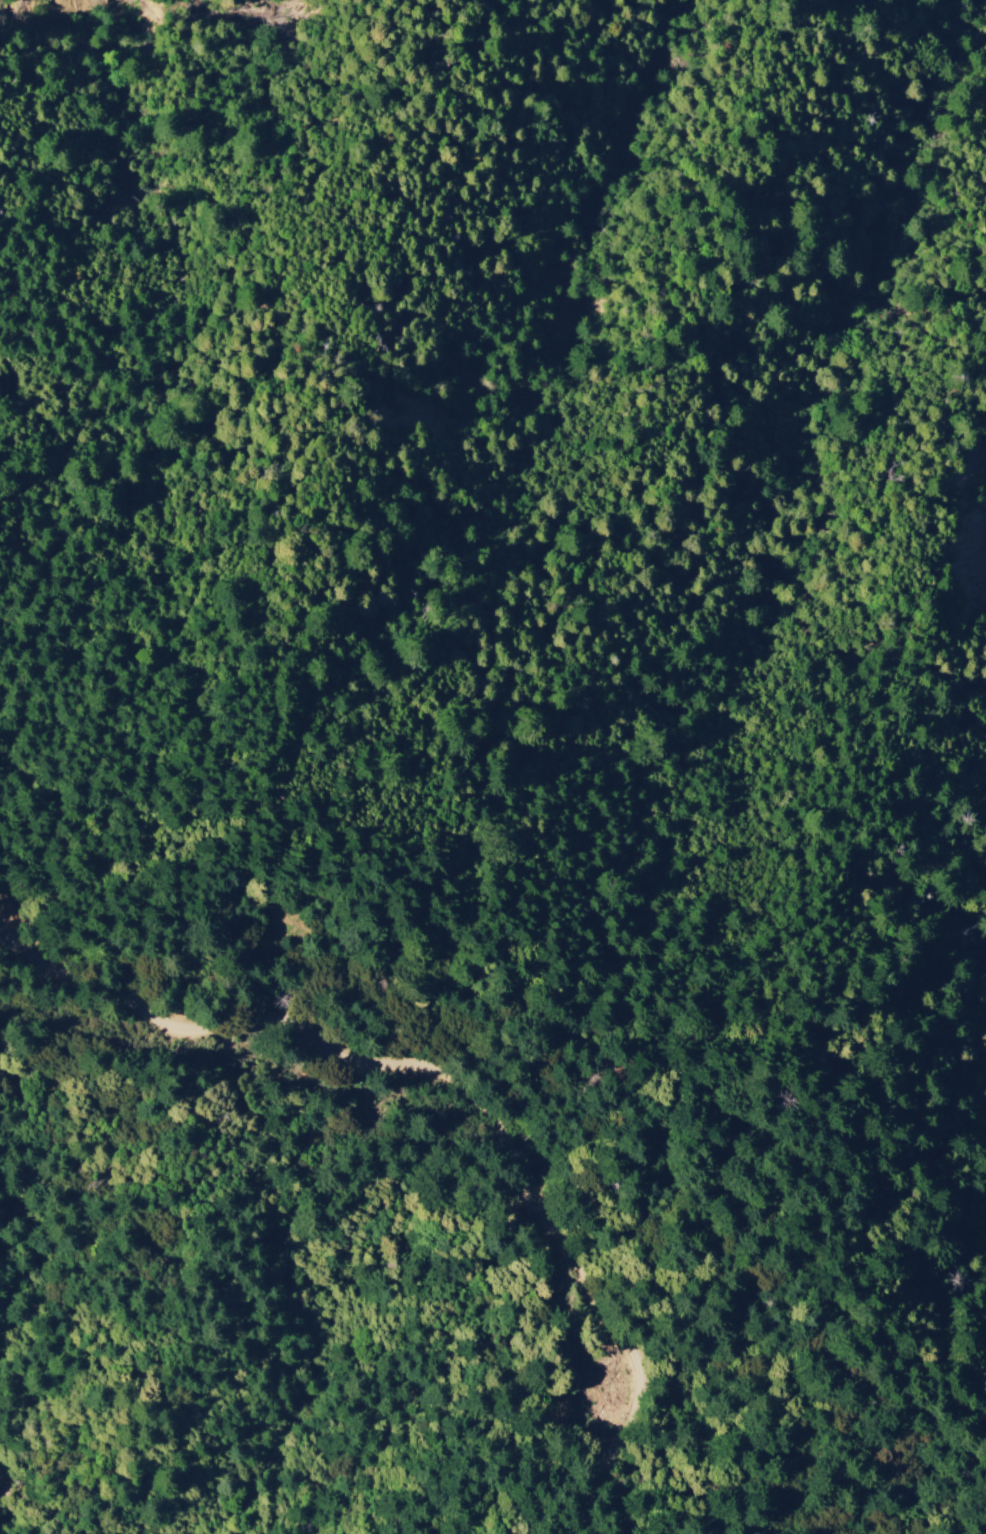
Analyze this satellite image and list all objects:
road: (465, 1101)

